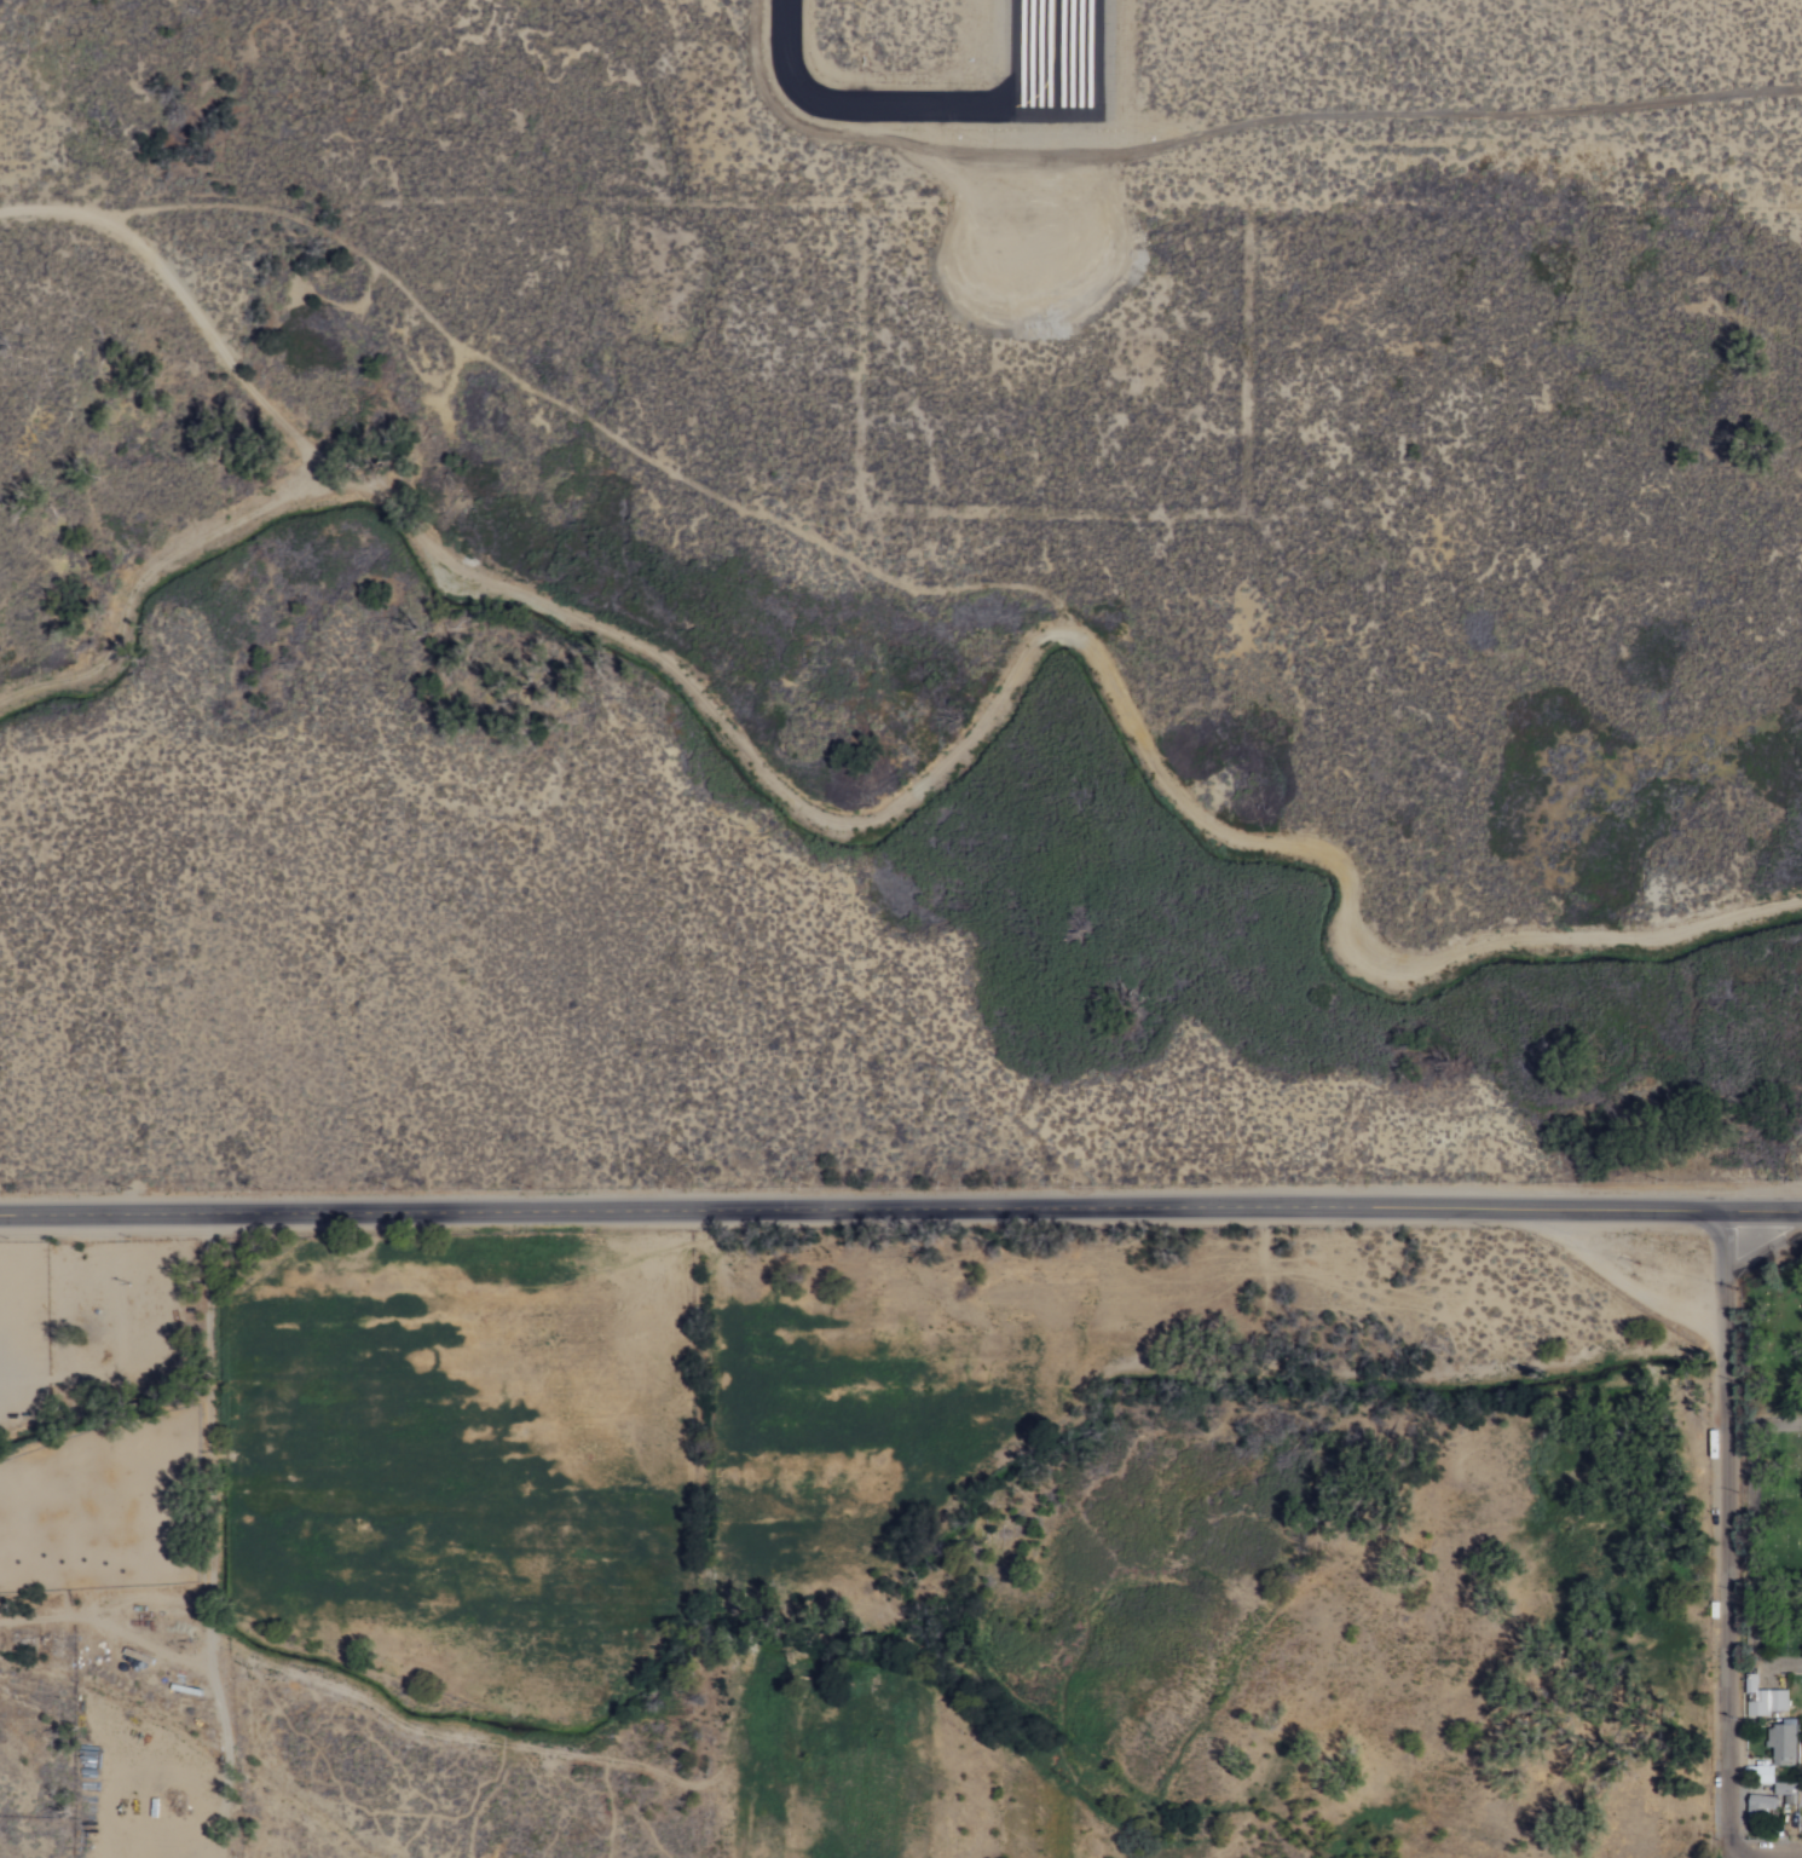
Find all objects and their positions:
airport runway: (1055, 52)
airport taxiway: (917, 106)
airport: (954, 163)
road: (567, 406)
road: (919, 785)
road: (901, 1206)
road: (1762, 1423)
park: (1771, 1489)
road: (1761, 1507)
road: (1721, 1564)
road: (1762, 1662)
building: (1765, 1697)
building: (1784, 1739)
building: (1784, 1784)
building: (1758, 1804)

